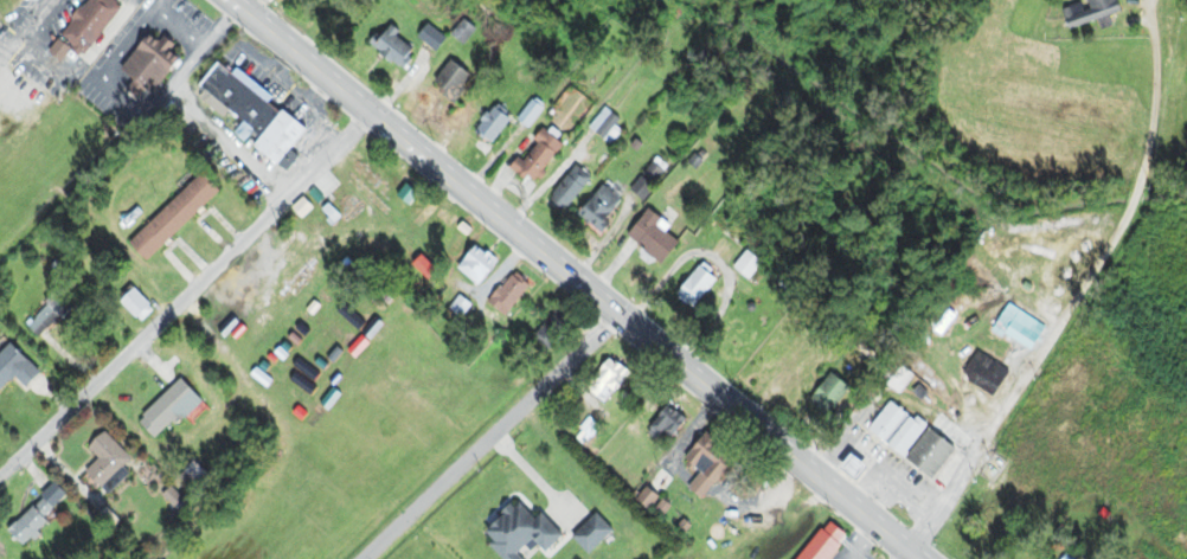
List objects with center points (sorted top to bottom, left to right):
building: (1093, 12)
road: (1109, 13)
building: (94, 24)
building: (469, 31)
building: (435, 37)
building: (403, 49)
building: (155, 64)
road: (1125, 86)
building: (258, 110)
building: (610, 123)
building: (545, 155)
building: (577, 187)
road: (1135, 198)
building: (610, 208)
building: (181, 214)
building: (661, 238)
building: (733, 246)
building: (481, 268)
road: (576, 274)
building: (704, 284)
building: (513, 294)
road: (187, 295)
building: (142, 306)
building: (936, 321)
building: (1015, 326)
building: (558, 329)
building: (18, 368)
building: (977, 371)
building: (891, 379)
road: (1022, 379)
building: (615, 385)
road: (925, 393)
building: (821, 396)
building: (174, 407)
building: (671, 425)
road: (494, 435)
building: (903, 438)
road: (582, 454)
building: (111, 458)
building: (712, 465)
building: (841, 465)
building: (44, 513)
building: (815, 542)
road: (917, 555)

